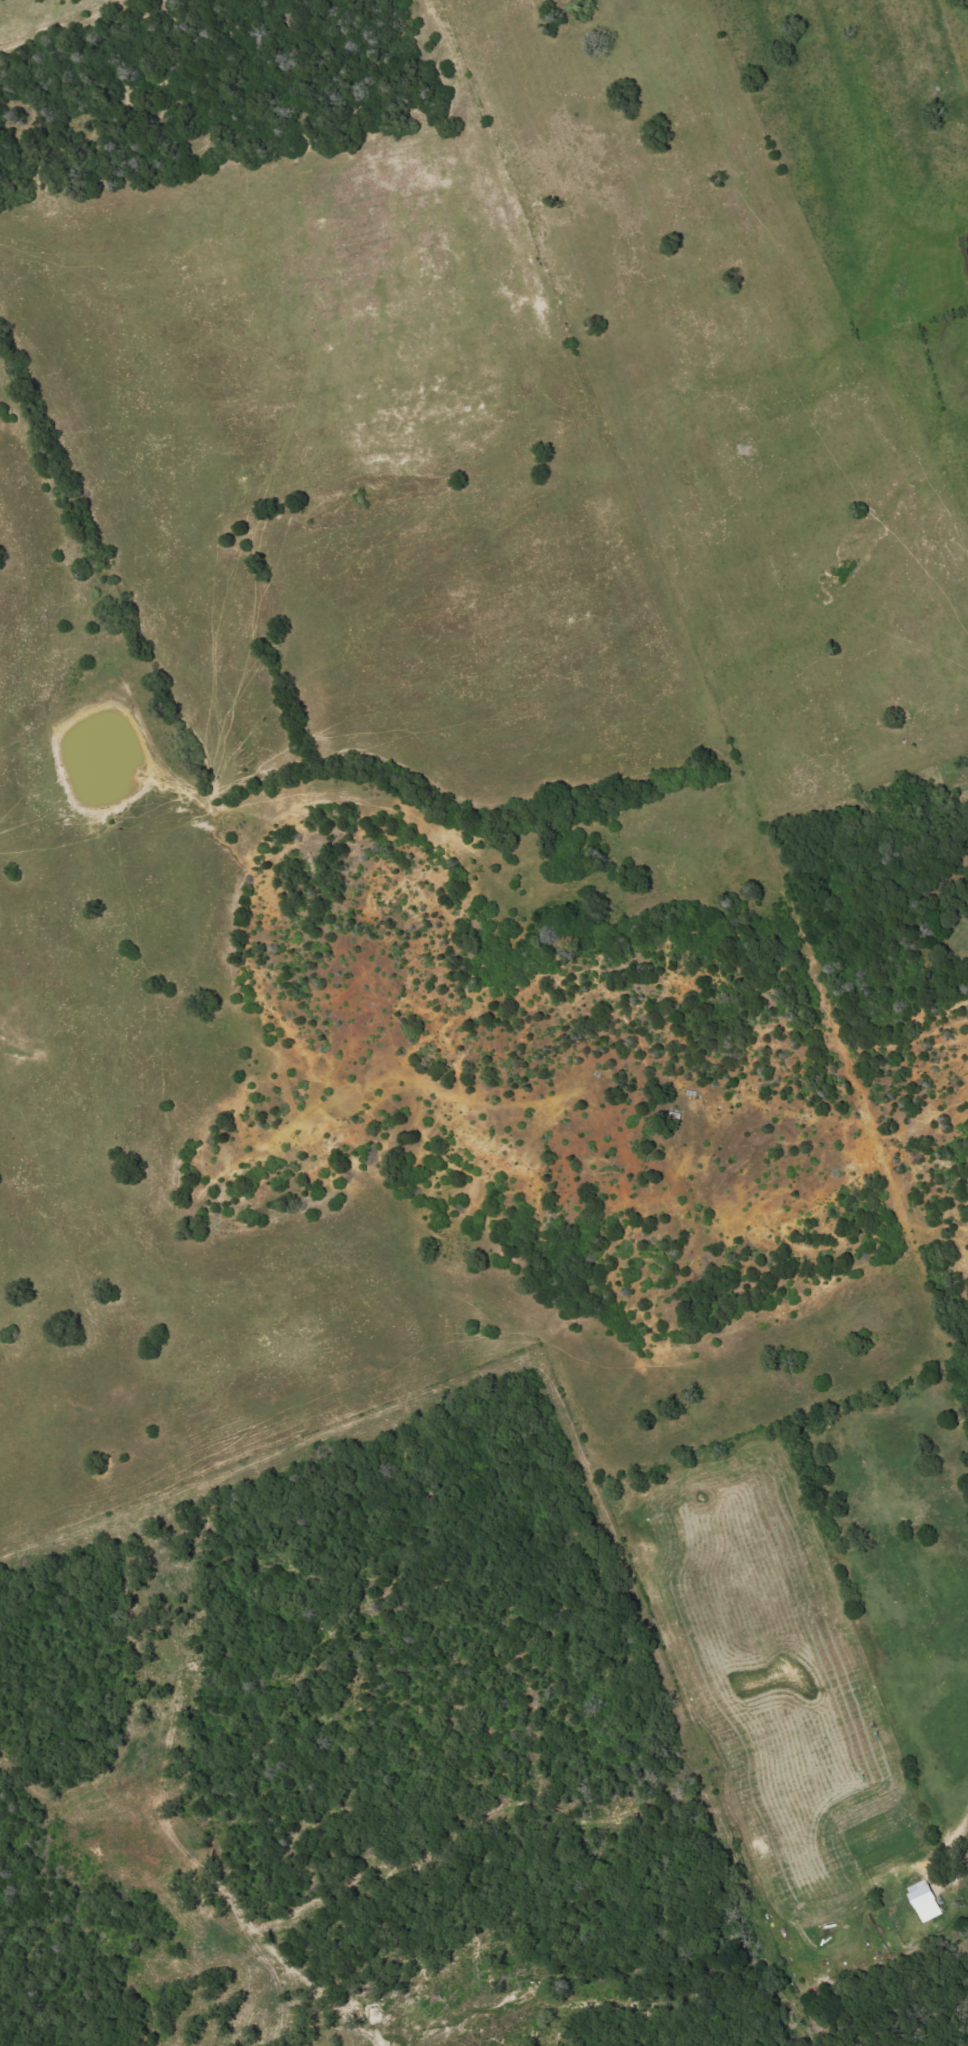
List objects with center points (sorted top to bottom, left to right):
road: (956, 1831)
building: (927, 1903)

